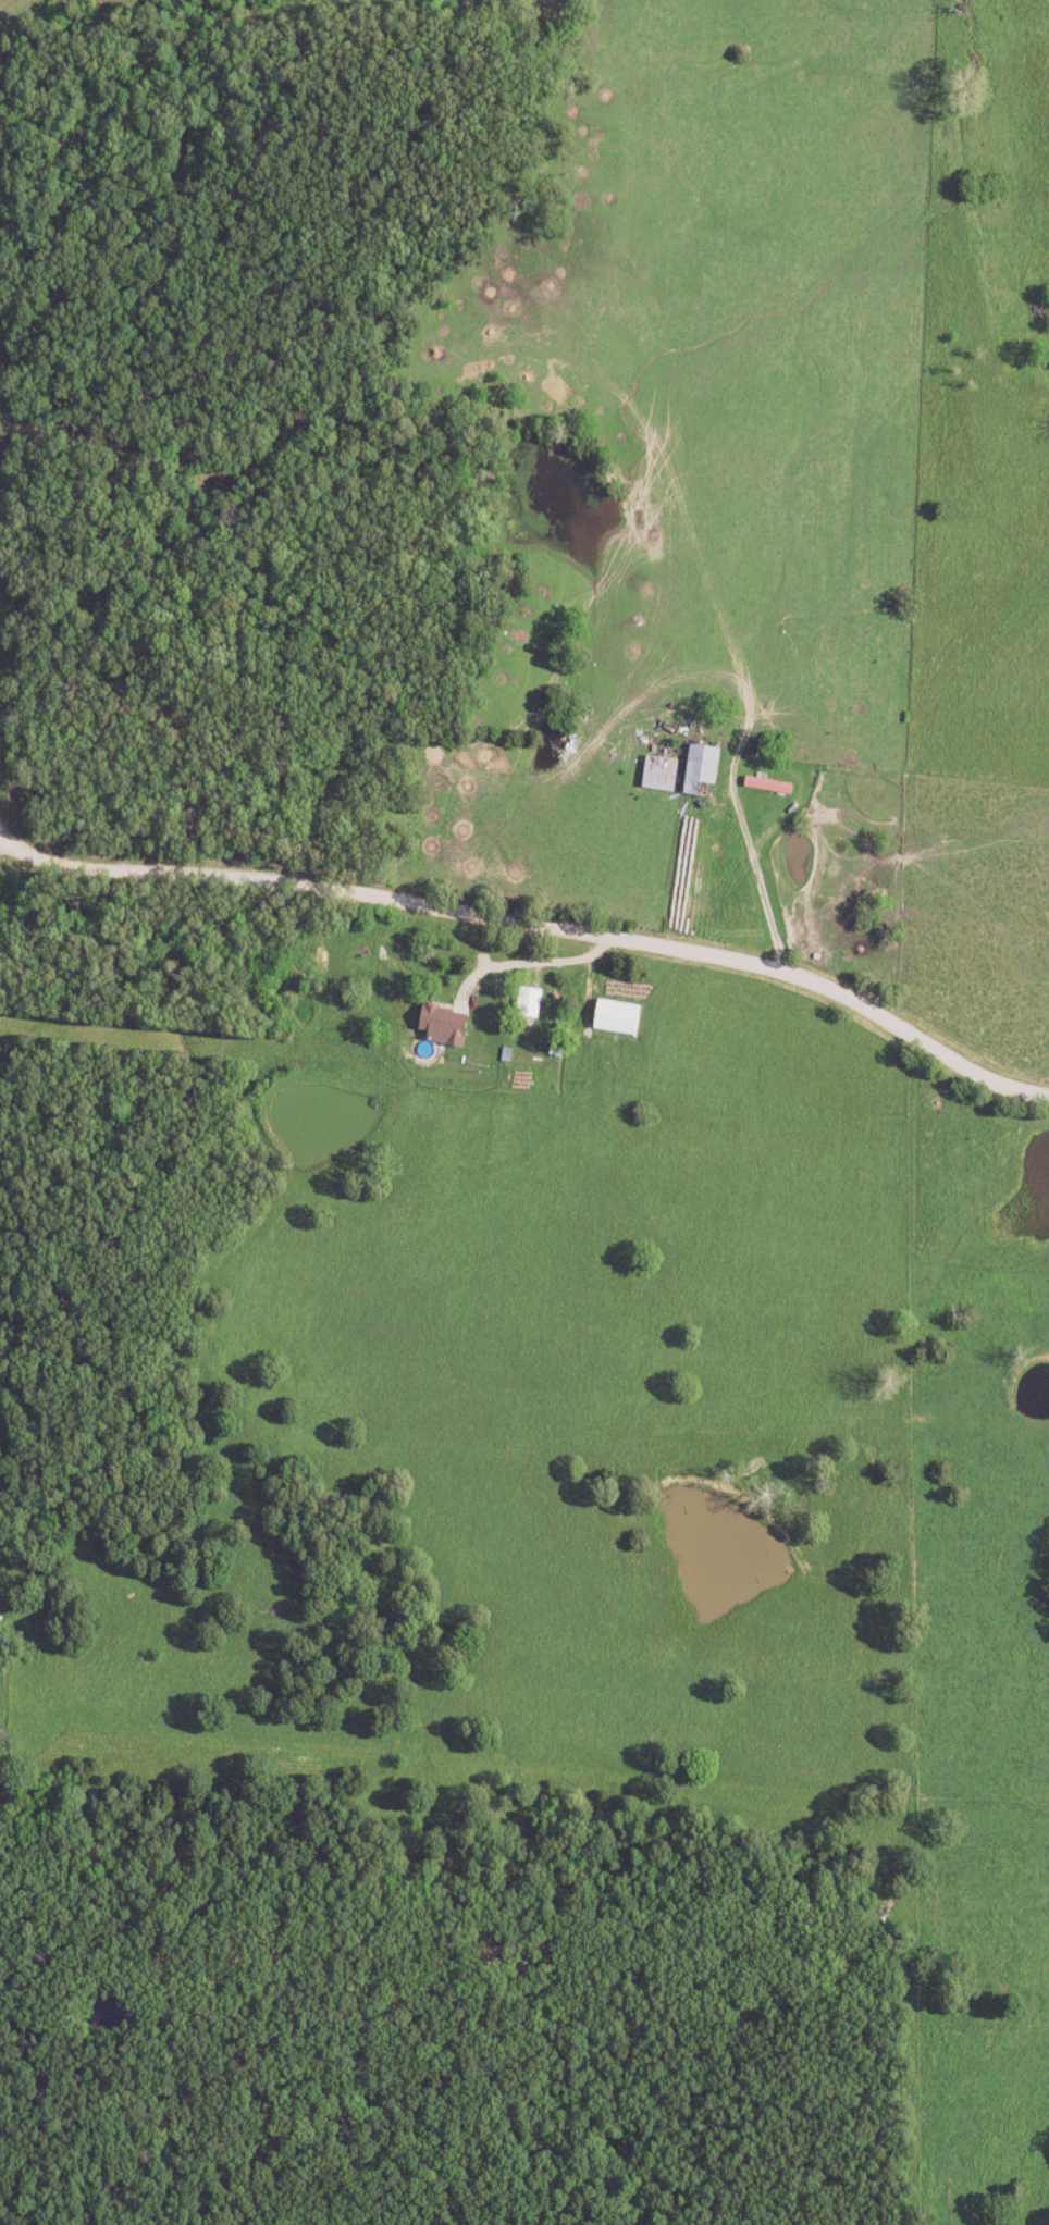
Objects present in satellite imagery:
building: (699, 770)
building: (765, 784)
road: (3, 832)
road: (3, 854)
road: (765, 892)
road: (540, 920)
road: (532, 965)
building: (531, 1003)
building: (615, 1016)
building: (441, 1025)

